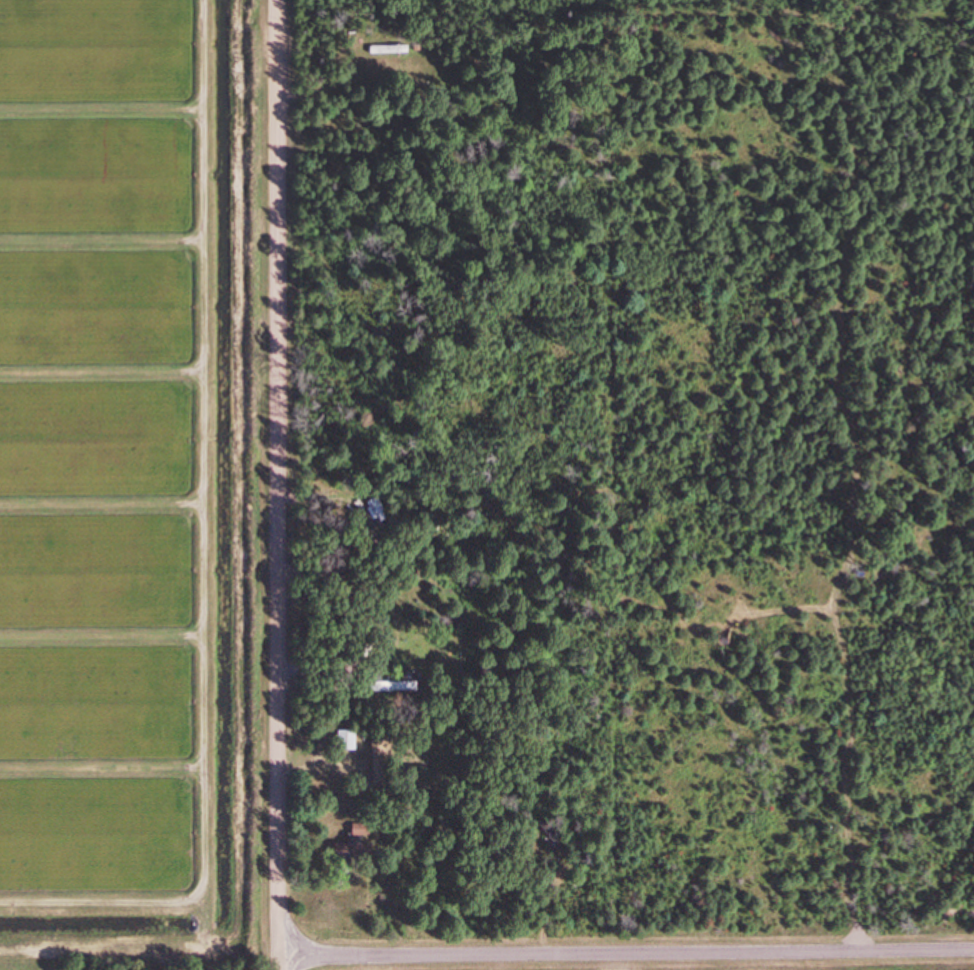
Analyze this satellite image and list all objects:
building: (391, 48)
crop: (112, 463)
road: (278, 485)
building: (401, 687)
building: (348, 741)
building: (384, 758)
building: (363, 831)
building: (356, 850)
road: (626, 952)
crop: (818, 968)

